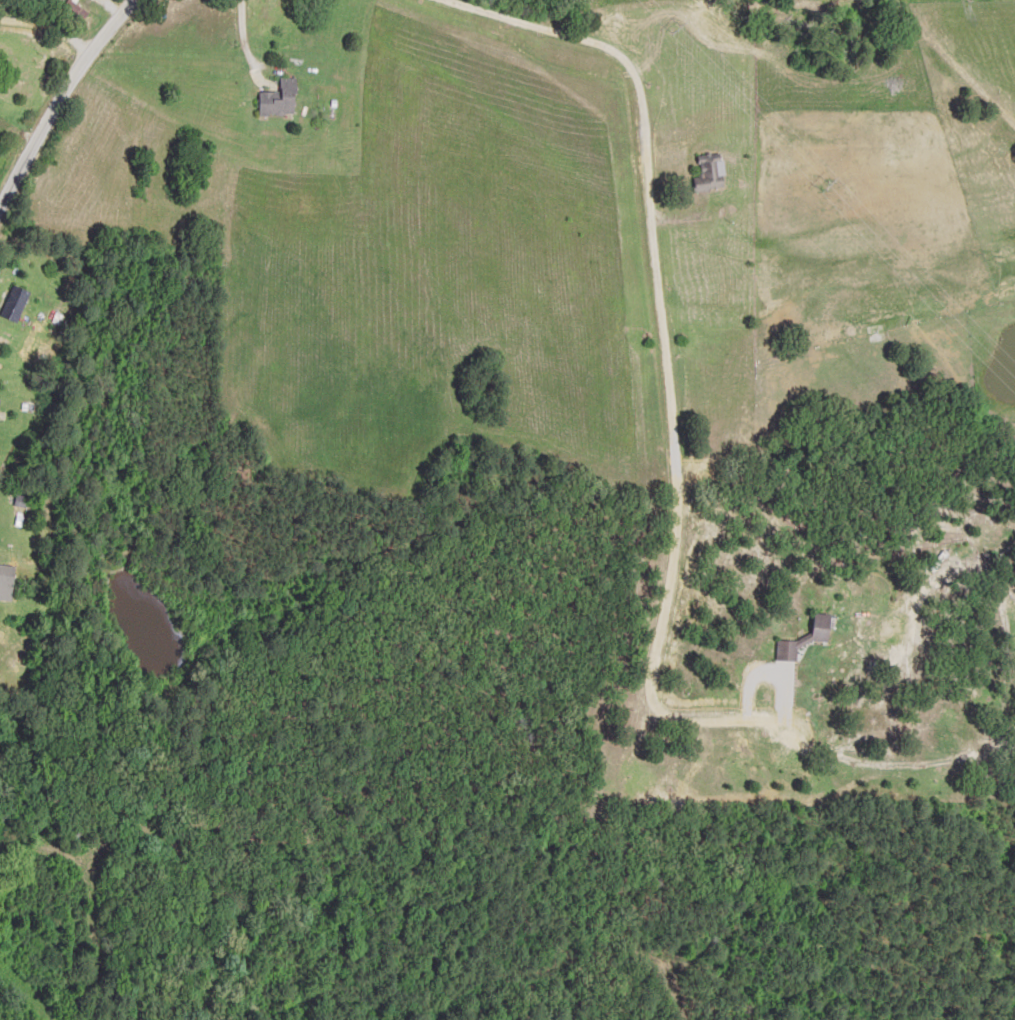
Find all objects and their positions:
road: (62, 46)
building: (280, 98)
road: (81, 123)
building: (711, 172)
road: (449, 295)
building: (17, 303)
building: (0, 401)
building: (8, 582)

